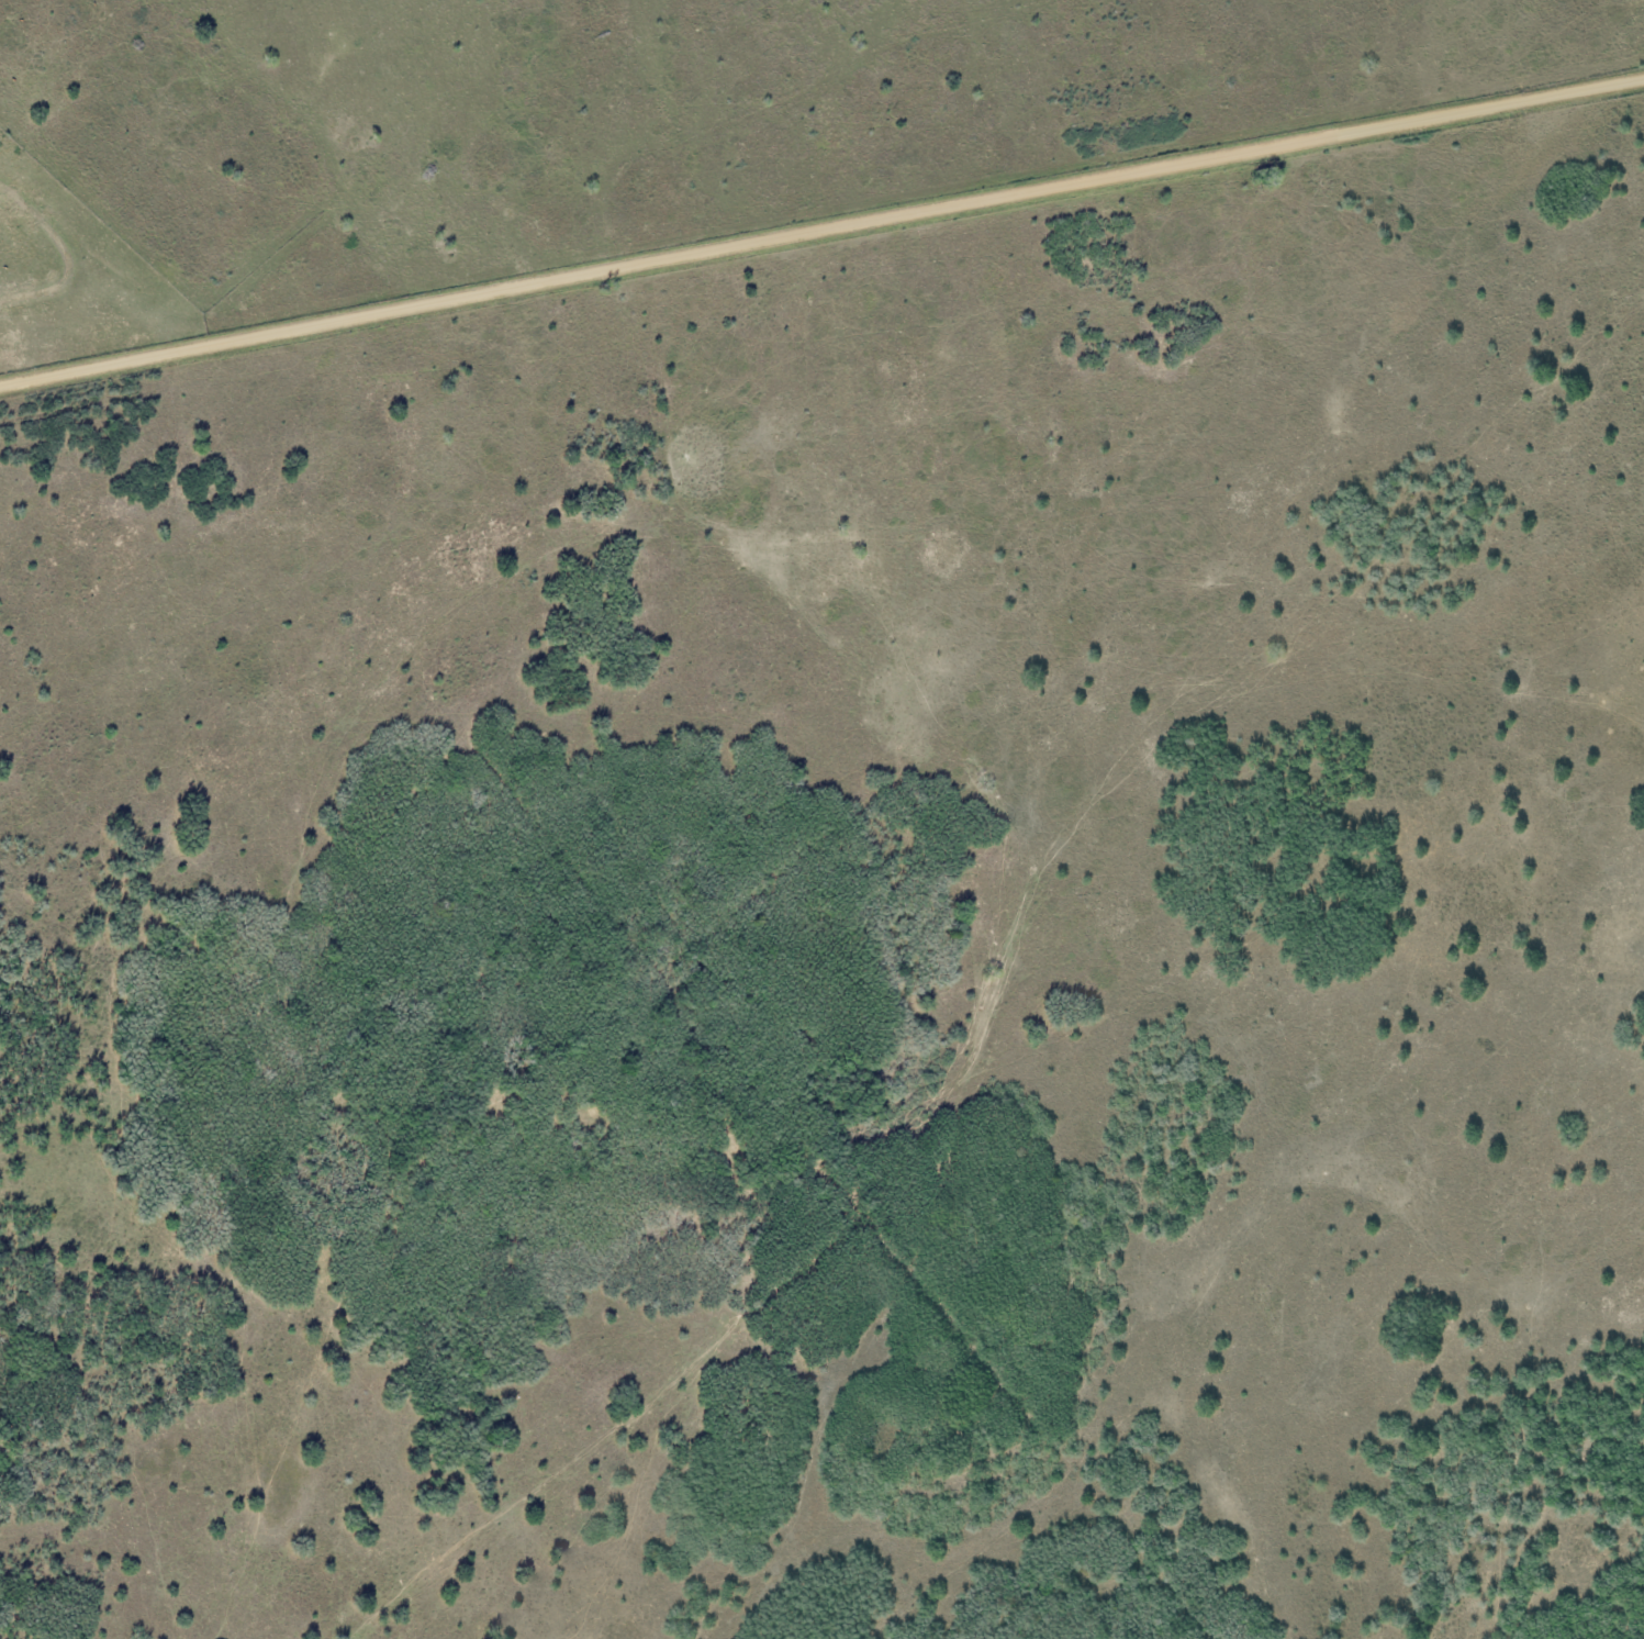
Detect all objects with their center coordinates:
road: (821, 228)

